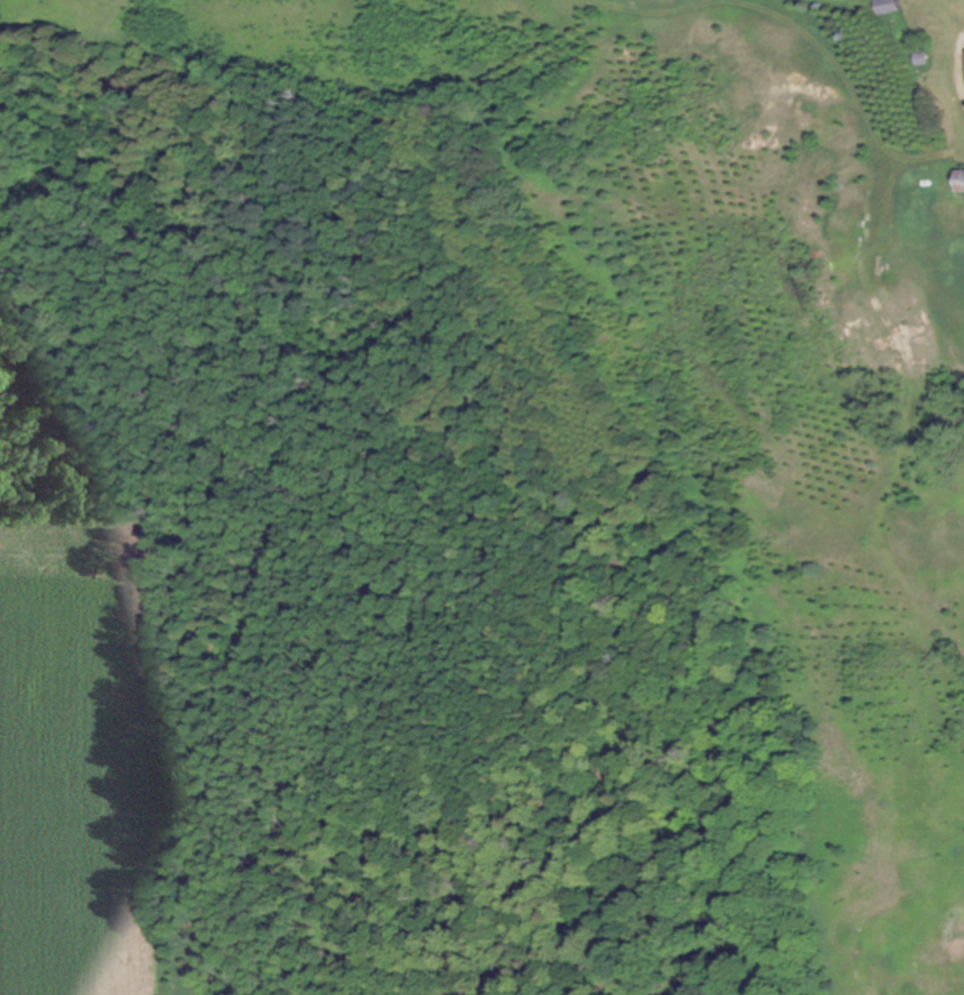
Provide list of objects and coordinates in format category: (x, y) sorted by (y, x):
building: (893, 7)
road: (960, 68)
building: (963, 183)

